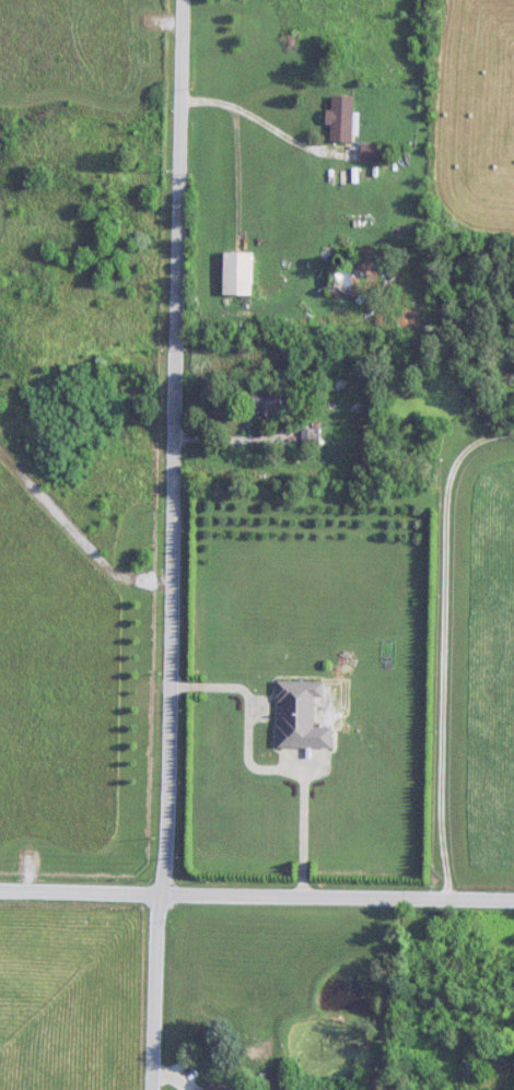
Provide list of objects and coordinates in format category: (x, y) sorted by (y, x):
road: (257, 119)
building: (341, 119)
building: (371, 153)
building: (237, 273)
building: (344, 281)
building: (268, 405)
road: (165, 544)
road: (440, 642)
building: (301, 716)
road: (258, 764)
road: (257, 894)
building: (217, 1088)

